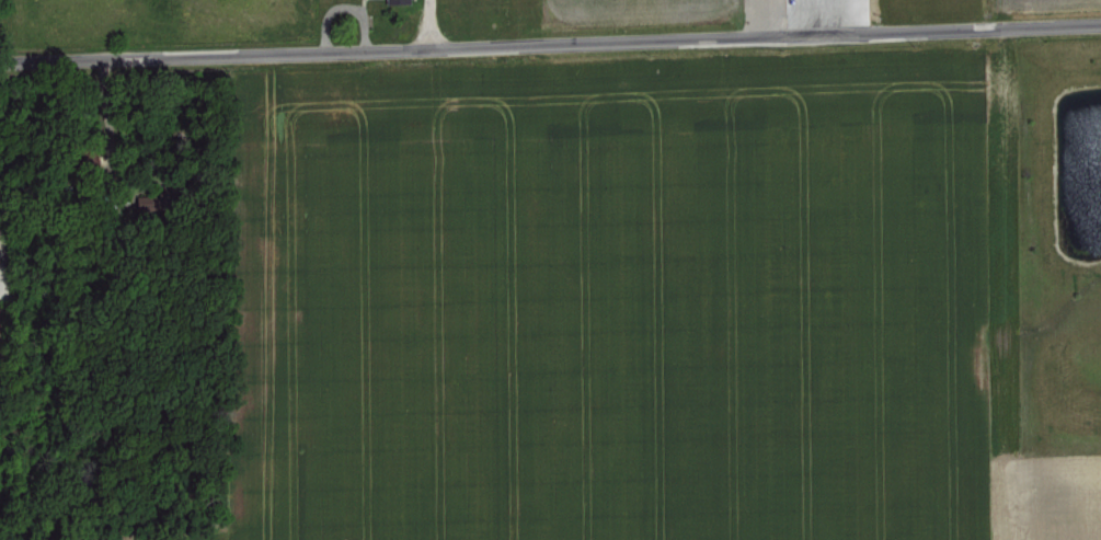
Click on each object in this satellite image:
building: (392, 0)
road: (550, 42)

